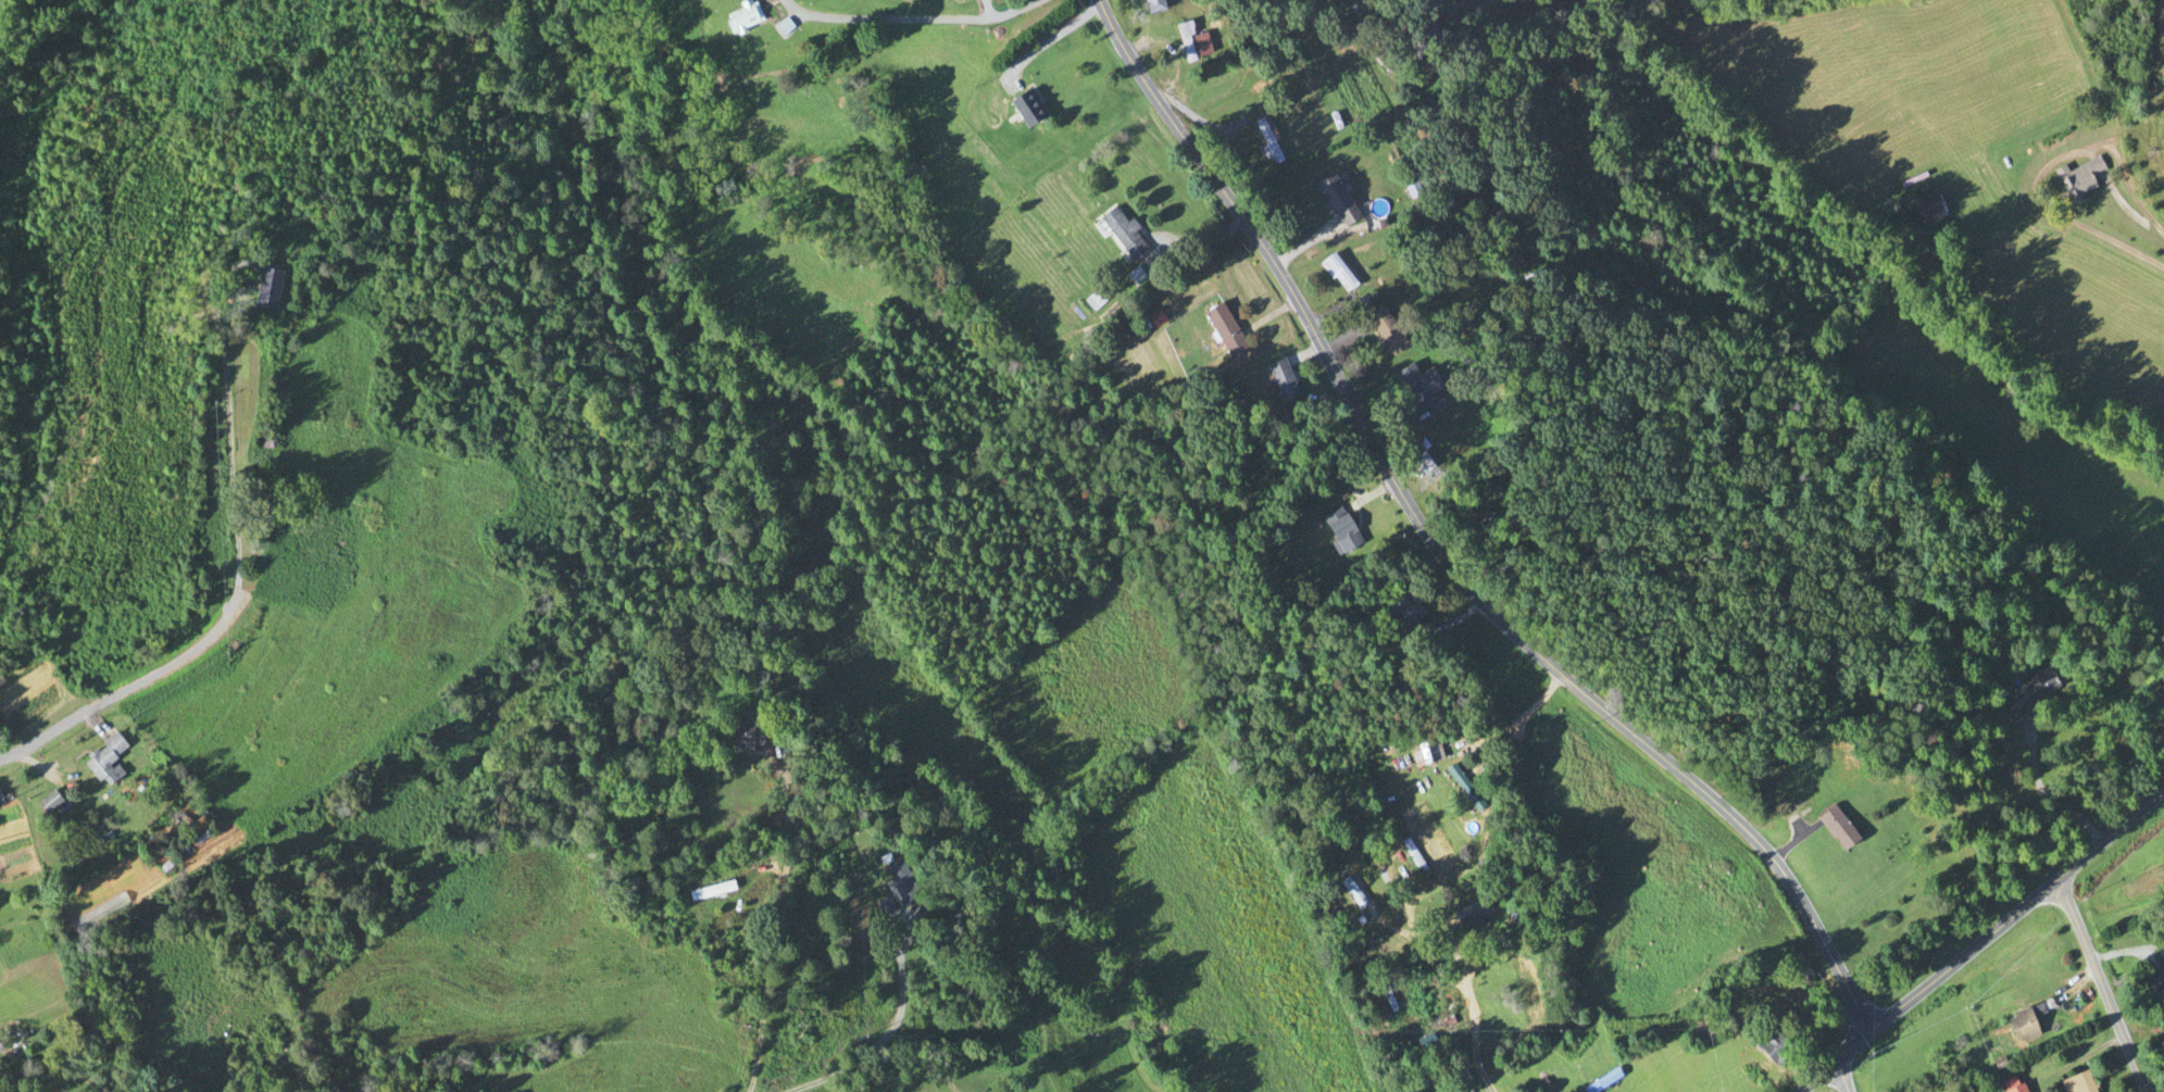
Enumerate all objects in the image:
building: (1152, 5)
building: (740, 16)
road: (904, 20)
building: (781, 27)
building: (1426, 36)
building: (1190, 43)
building: (1025, 108)
building: (1314, 117)
building: (2078, 178)
road: (2128, 191)
building: (1335, 200)
building: (1926, 209)
building: (1122, 234)
road: (1301, 244)
building: (1337, 274)
building: (1537, 279)
building: (264, 287)
building: (1221, 326)
building: (1386, 330)
building: (1280, 381)
building: (1412, 385)
road: (224, 424)
building: (263, 441)
building: (1418, 455)
building: (1338, 530)
road: (1436, 553)
building: (1400, 608)
road: (123, 685)
building: (2028, 692)
road: (1519, 715)
building: (743, 737)
building: (1428, 754)
building: (102, 762)
building: (1463, 789)
building: (1835, 829)
building: (1412, 857)
building: (899, 884)
building: (1352, 889)
building: (708, 892)
building: (1473, 915)
road: (751, 930)
road: (1981, 939)
building: (1799, 978)
building: (2155, 980)
road: (2099, 987)
building: (2021, 1027)
road: (1471, 1033)
road: (855, 1043)
building: (1425, 1044)
building: (1771, 1047)
building: (2161, 1050)
building: (1461, 1078)
road: (1838, 1078)
building: (2077, 1083)
building: (2011, 1085)

